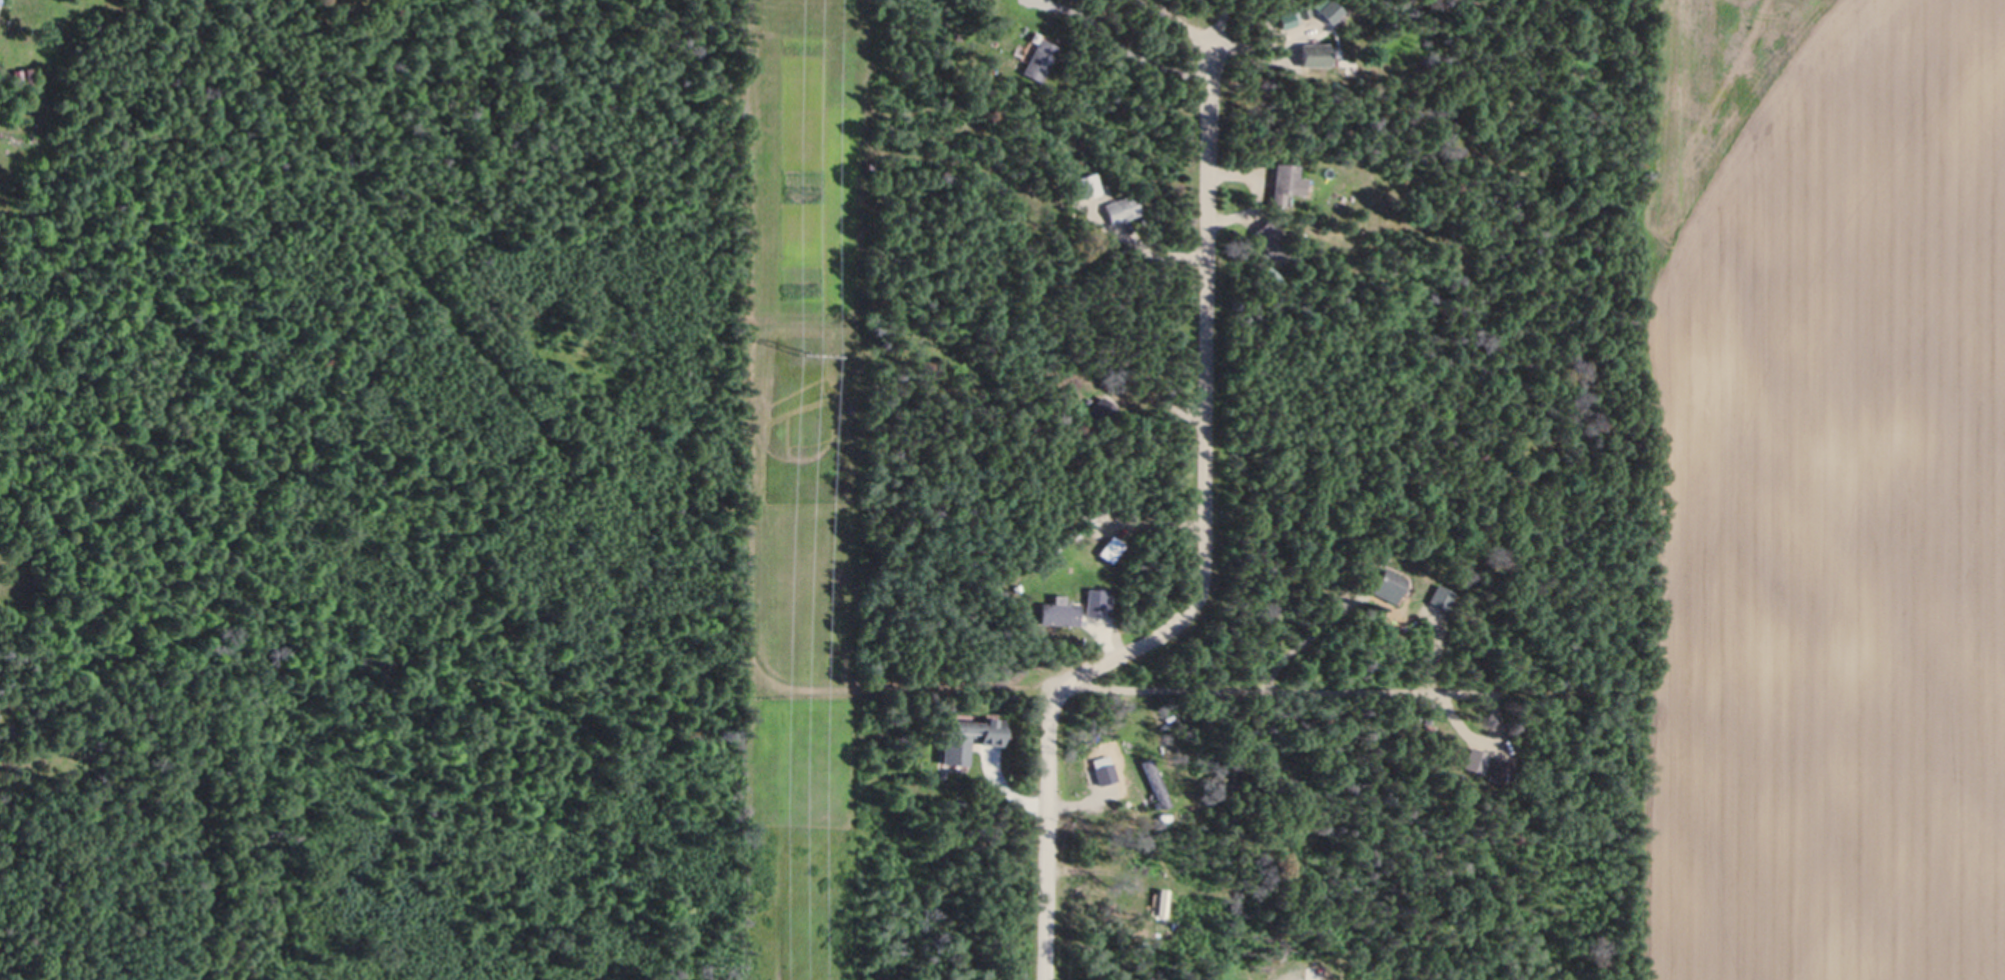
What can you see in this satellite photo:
road: (1220, 44)
building: (1314, 54)
building: (1039, 60)
building: (1286, 183)
building: (1122, 208)
building: (1274, 240)
power tower: (806, 352)
building: (1106, 412)
crop: (1829, 494)
road: (1205, 552)
building: (1390, 584)
building: (1441, 597)
building: (1095, 603)
building: (1059, 614)
road: (1248, 689)
building: (968, 736)
building: (1502, 771)

